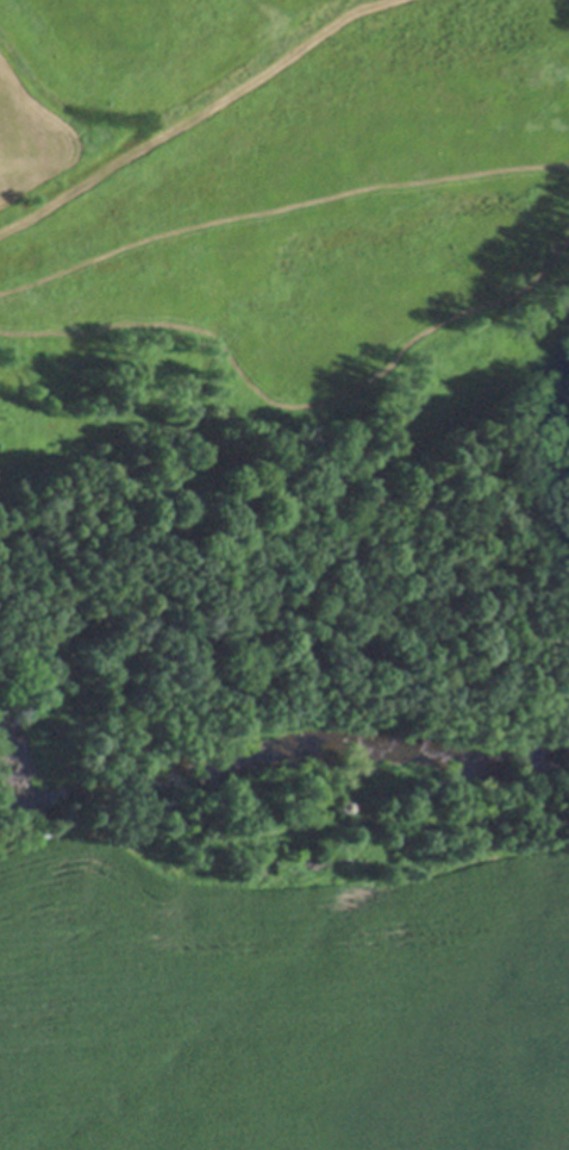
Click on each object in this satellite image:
river: (271, 769)

